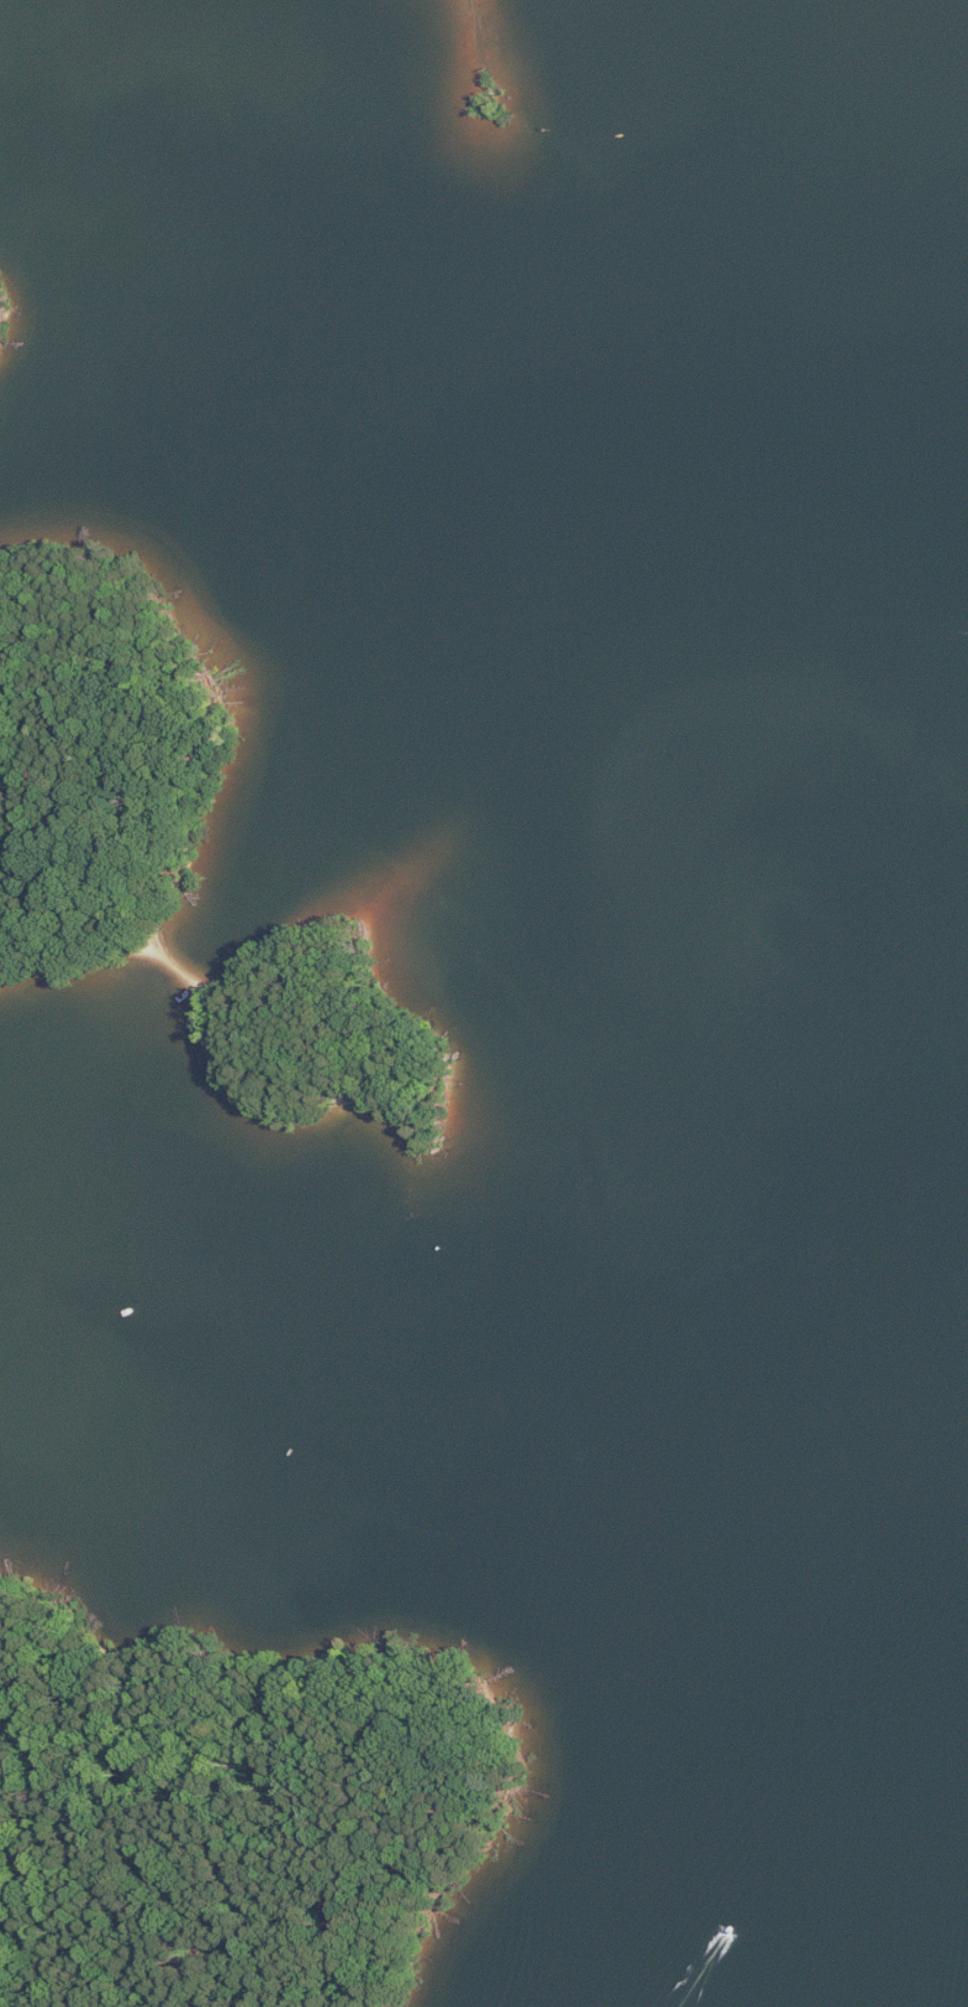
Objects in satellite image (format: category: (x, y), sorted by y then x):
river: (920, 1905)

